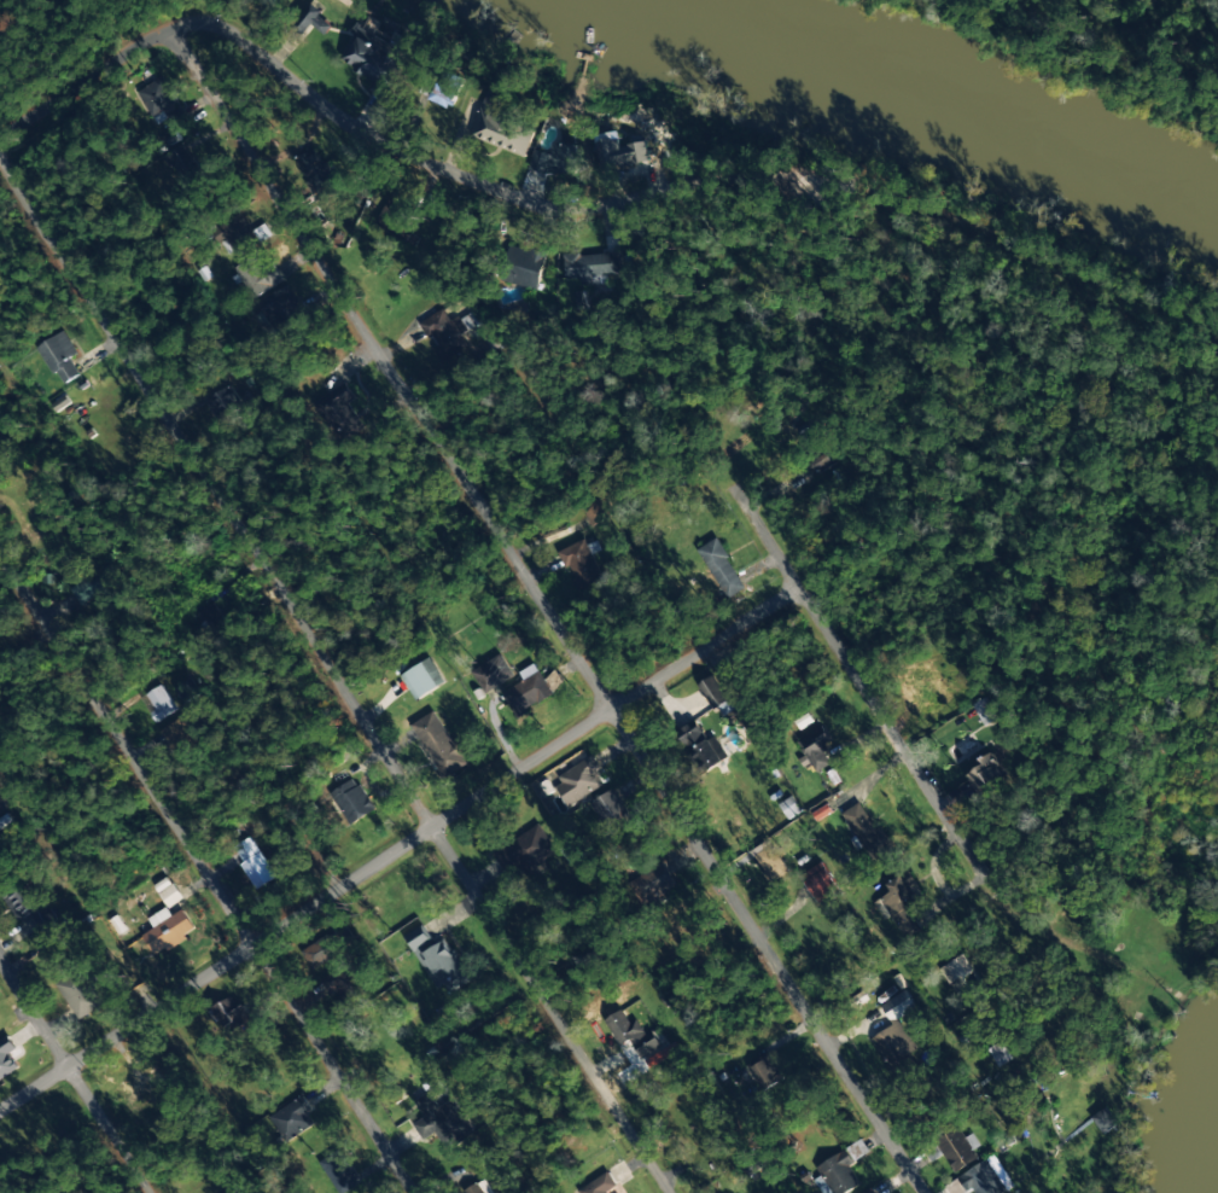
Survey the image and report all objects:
building: (311, 18)
building: (374, 54)
road: (84, 83)
river: (938, 88)
building: (444, 95)
building: (156, 97)
building: (176, 117)
building: (503, 133)
road: (397, 145)
building: (620, 151)
building: (556, 159)
building: (181, 161)
building: (315, 170)
building: (392, 216)
building: (235, 240)
building: (526, 266)
building: (591, 267)
building: (258, 277)
building: (284, 308)
building: (447, 333)
building: (60, 357)
building: (226, 403)
building: (338, 408)
building: (35, 508)
building: (582, 561)
building: (721, 568)
building: (93, 587)
road: (549, 610)
building: (493, 674)
road: (333, 675)
building: (422, 679)
building: (920, 688)
building: (528, 691)
building: (186, 692)
building: (712, 692)
building: (159, 703)
building: (983, 711)
building: (180, 738)
building: (439, 745)
building: (703, 747)
building: (815, 749)
building: (986, 773)
building: (579, 780)
building: (352, 801)
building: (611, 813)
road: (449, 817)
road: (945, 817)
building: (866, 831)
building: (523, 851)
building: (769, 861)
building: (253, 862)
road: (208, 872)
building: (652, 883)
building: (820, 883)
building: (168, 892)
building: (31, 903)
building: (898, 906)
building: (168, 930)
building: (330, 944)
building: (438, 960)
building: (954, 968)
building: (342, 984)
building: (78, 993)
building: (896, 1035)
building: (640, 1038)
building: (1000, 1053)
building: (7, 1059)
building: (764, 1072)
road: (75, 1076)
building: (292, 1117)
building: (438, 1119)
building: (1103, 1119)
building: (958, 1150)
building: (337, 1172)
building: (839, 1174)
building: (986, 1177)
building: (601, 1185)
building: (240, 1192)

